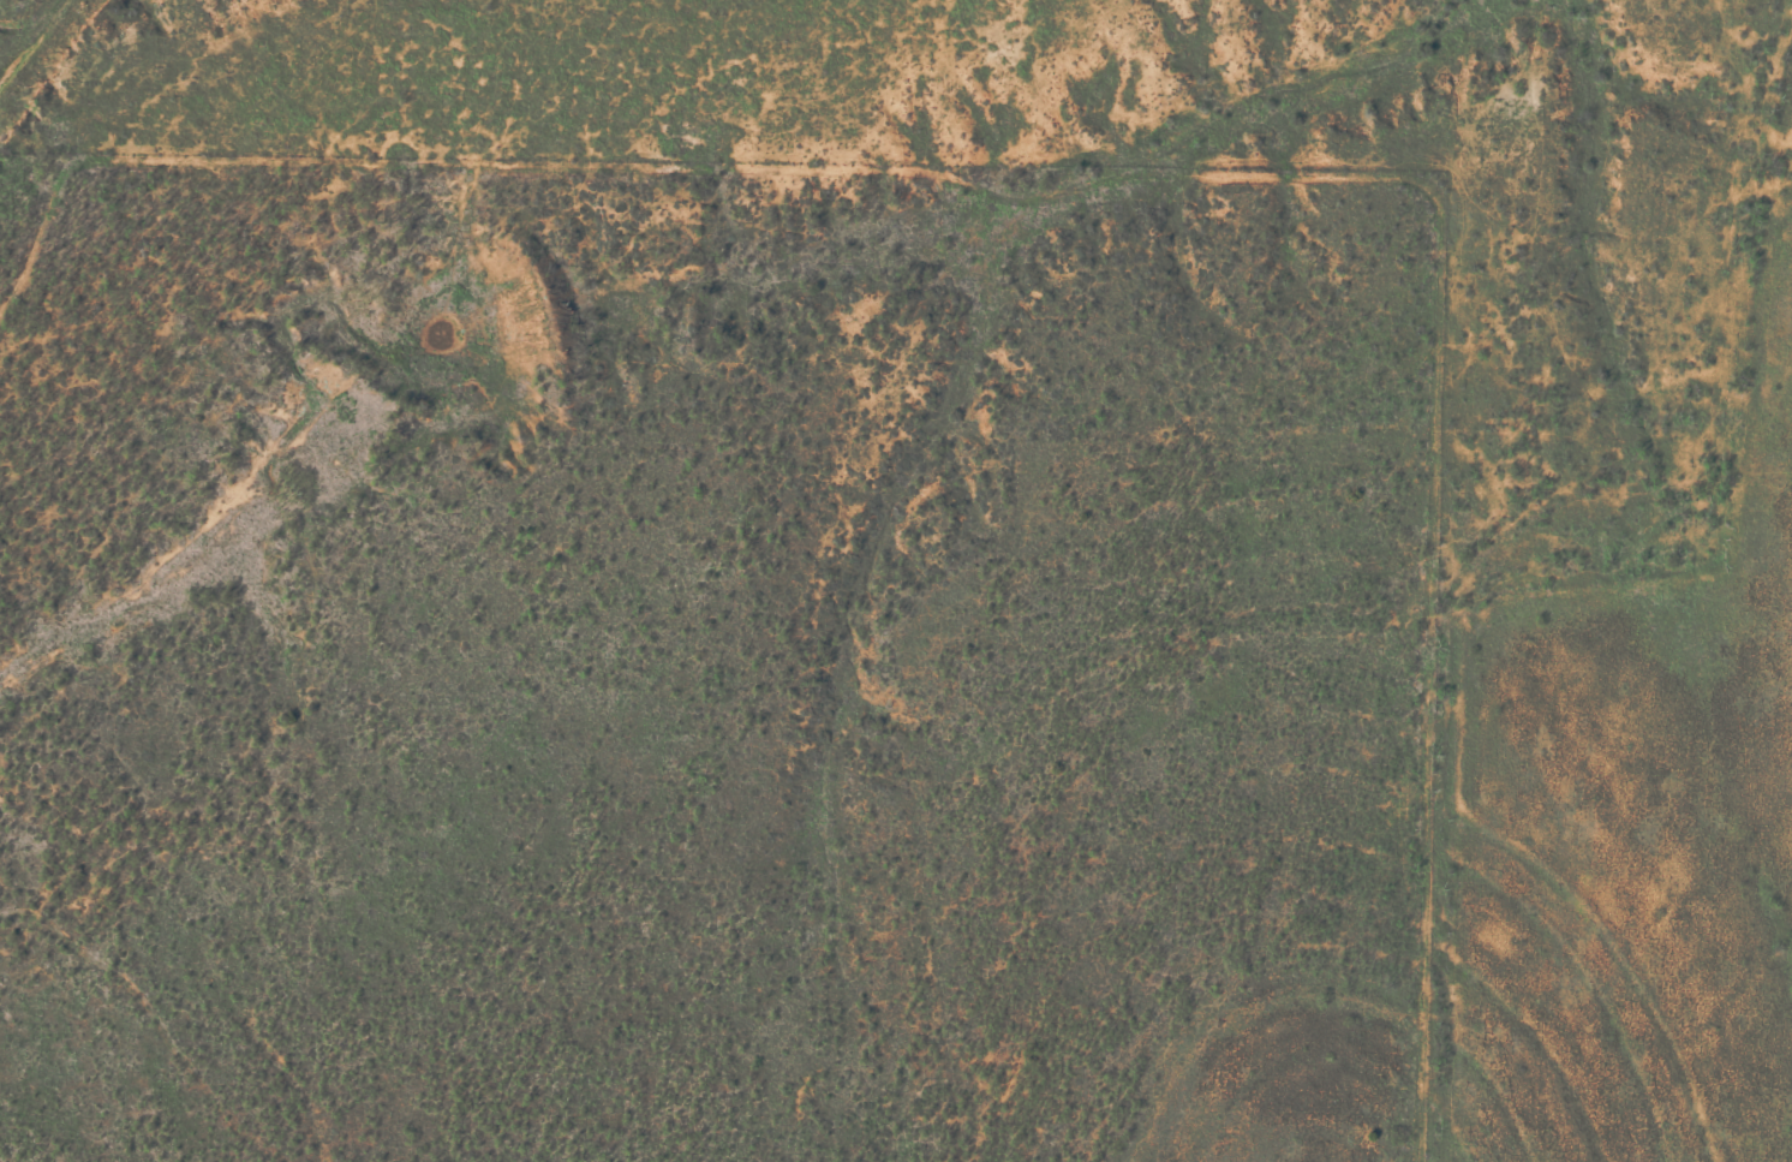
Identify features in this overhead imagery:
road: (195, 330)
road: (1197, 631)

